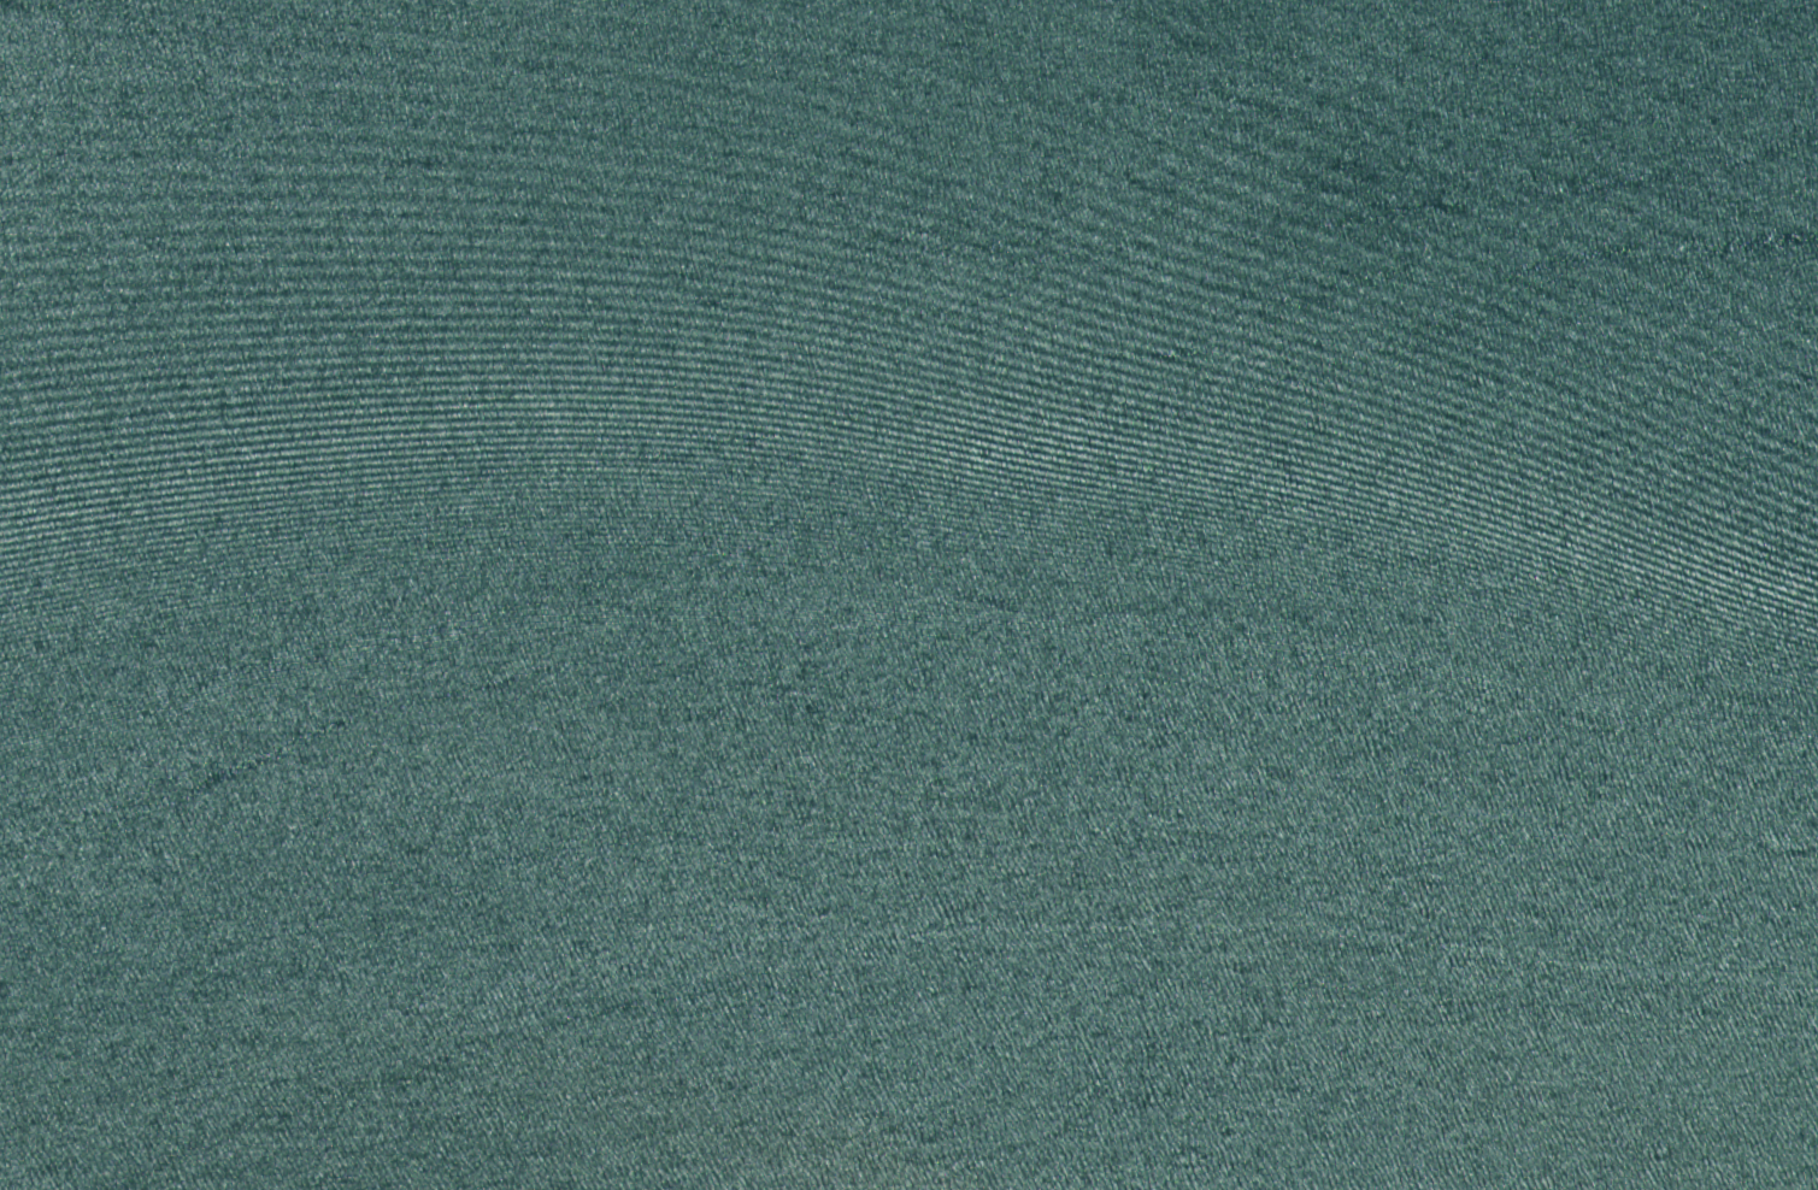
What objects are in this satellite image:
river: (877, 615)

